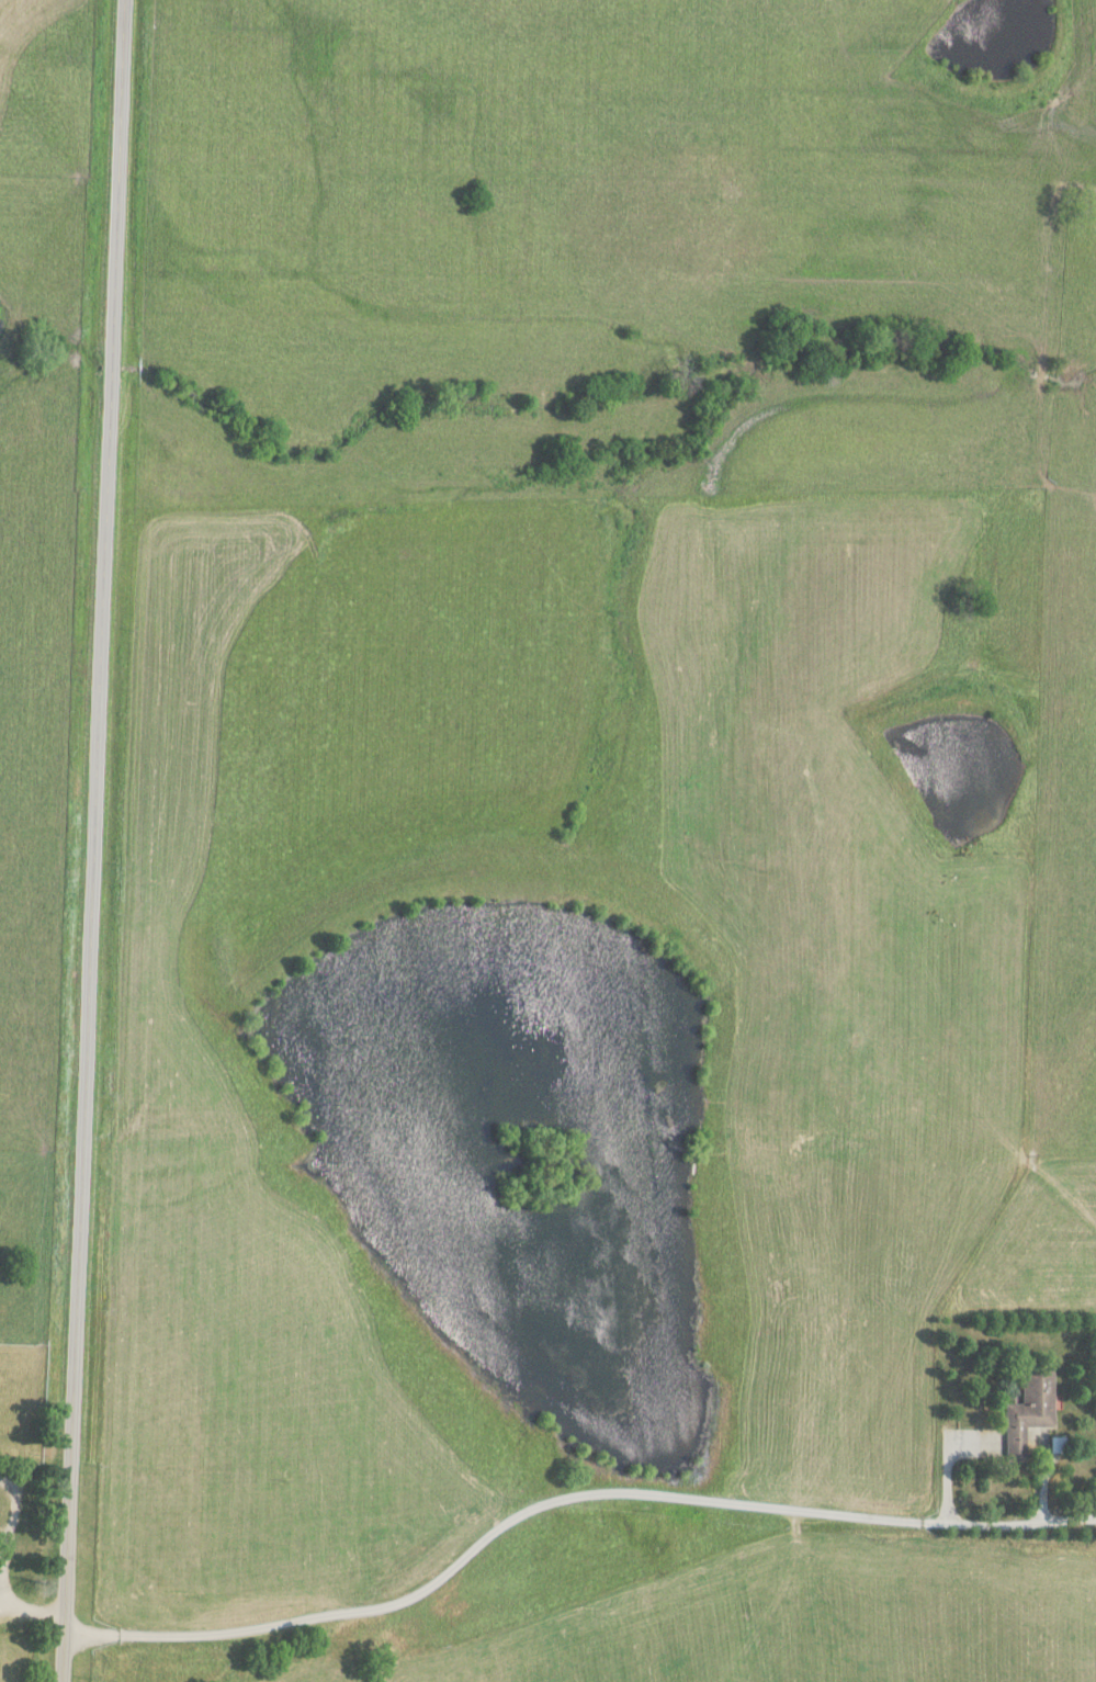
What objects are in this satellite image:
road: (93, 840)
building: (1026, 1411)

